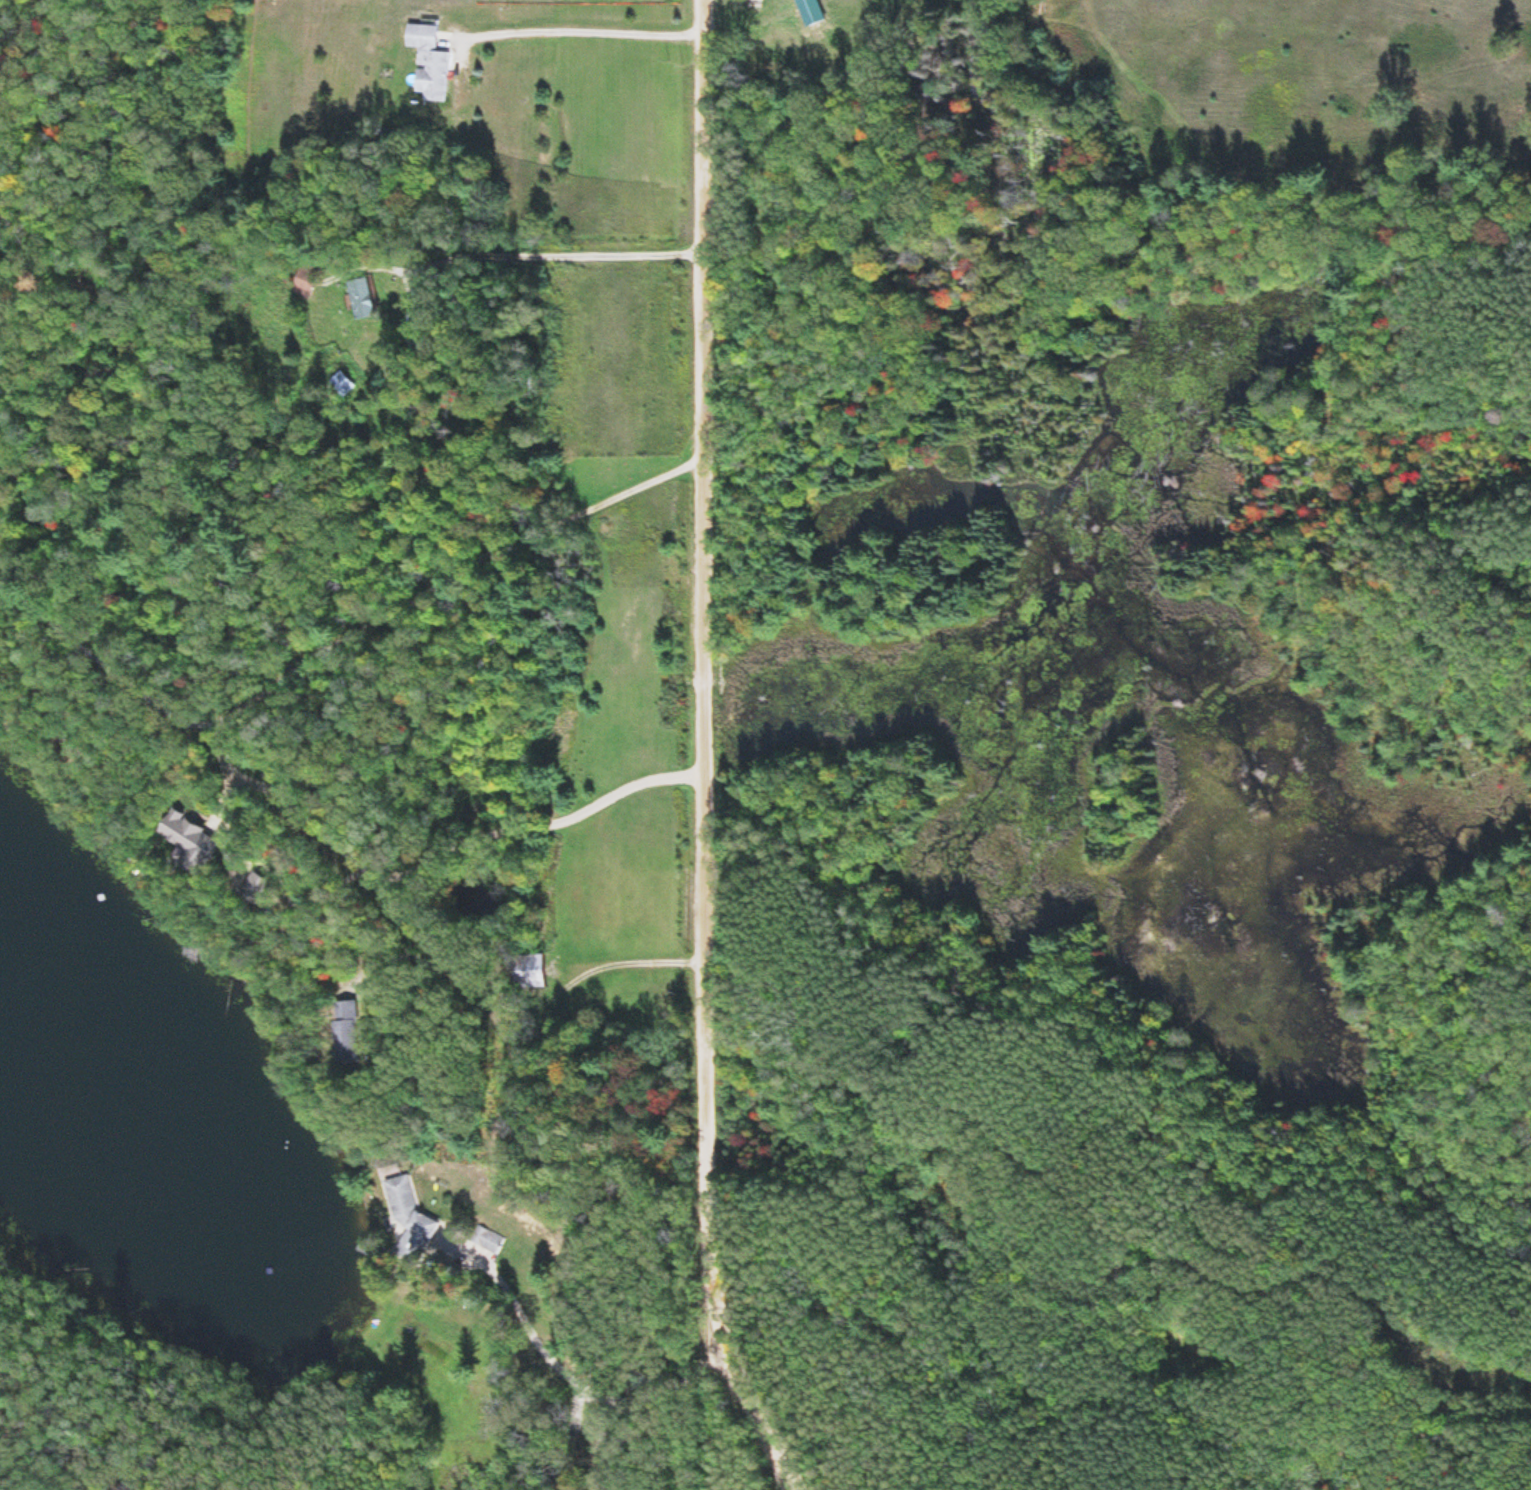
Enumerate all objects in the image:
building: (429, 64)
building: (305, 282)
building: (361, 301)
building: (342, 386)
road: (335, 684)
road: (693, 752)
building: (188, 844)
building: (255, 891)
building: (529, 973)
building: (347, 1035)
building: (410, 1220)
building: (489, 1242)
road: (596, 1375)

